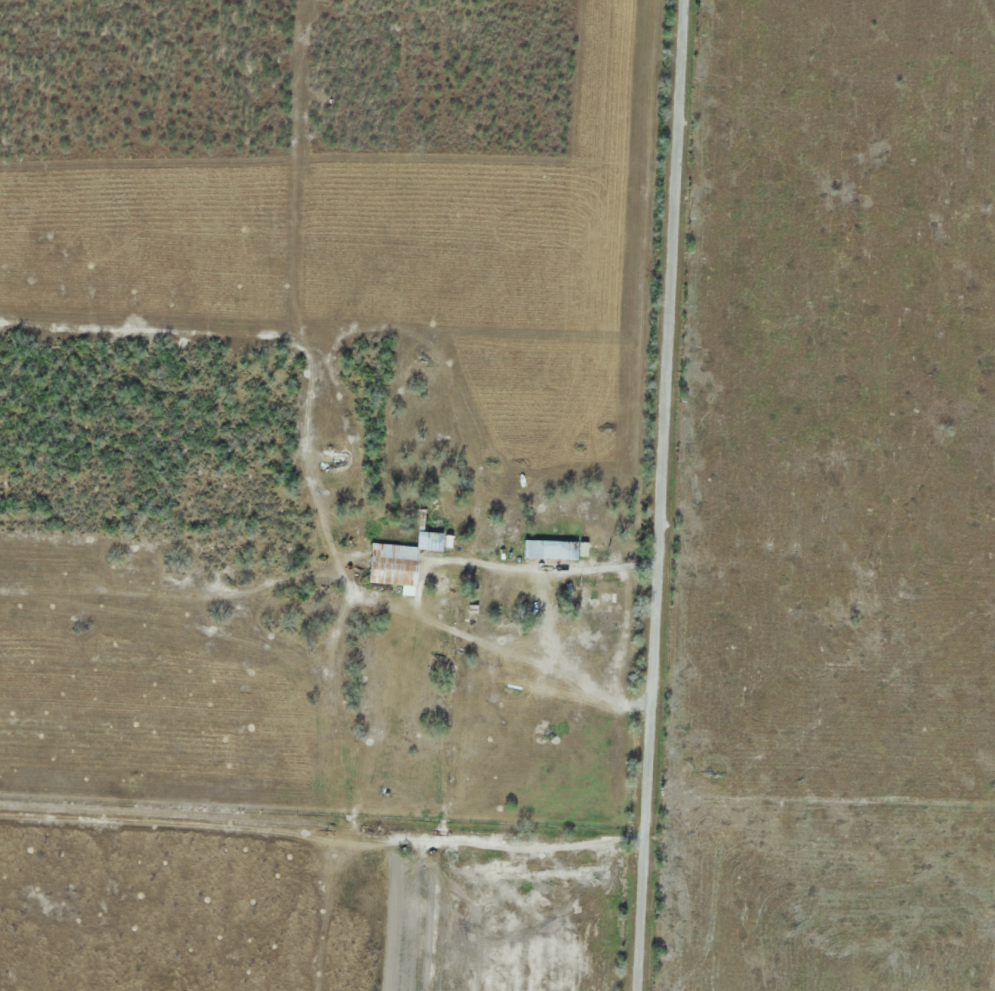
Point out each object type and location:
road: (661, 495)
building: (547, 549)
building: (396, 560)
building: (595, 597)
road: (447, 825)

